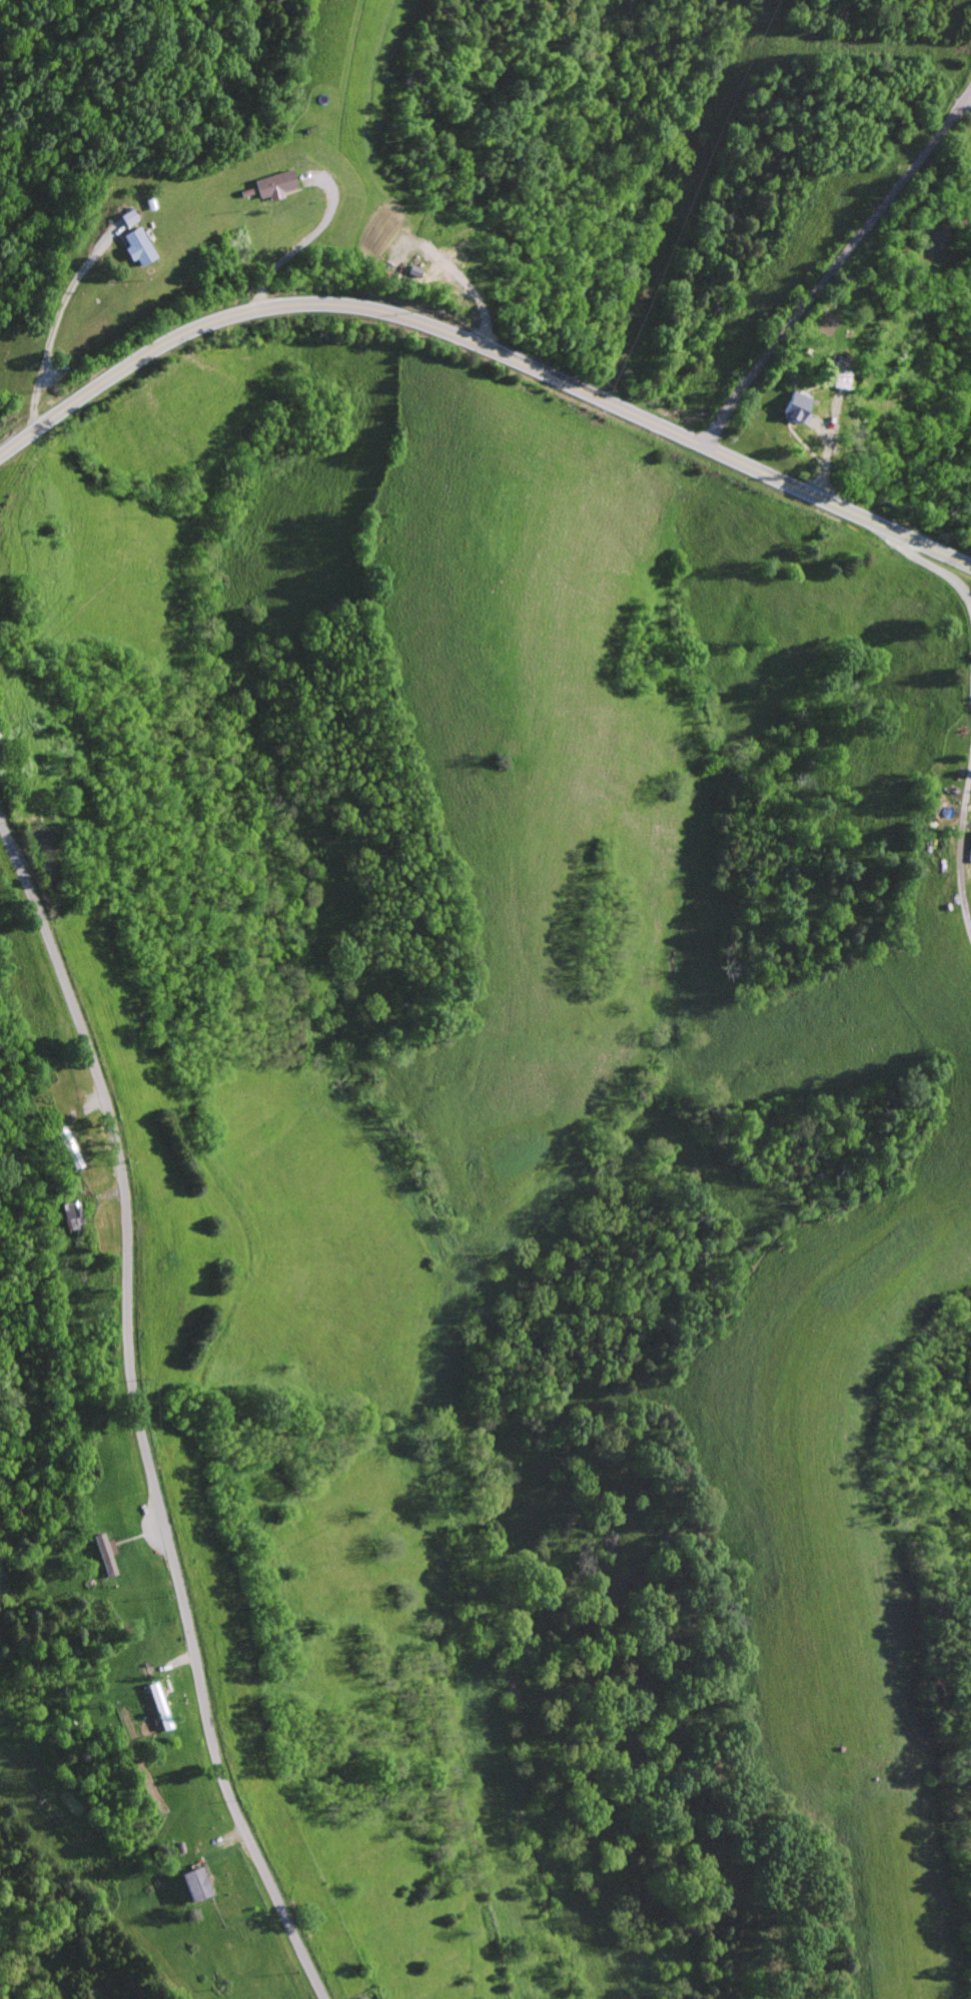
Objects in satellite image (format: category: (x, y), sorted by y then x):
building: (274, 183)
building: (128, 217)
road: (303, 245)
building: (139, 246)
road: (836, 267)
road: (485, 347)
building: (838, 375)
building: (795, 408)
road: (932, 569)
road: (958, 844)
road: (139, 1411)
building: (106, 1553)
building: (159, 1705)
building: (195, 1883)

